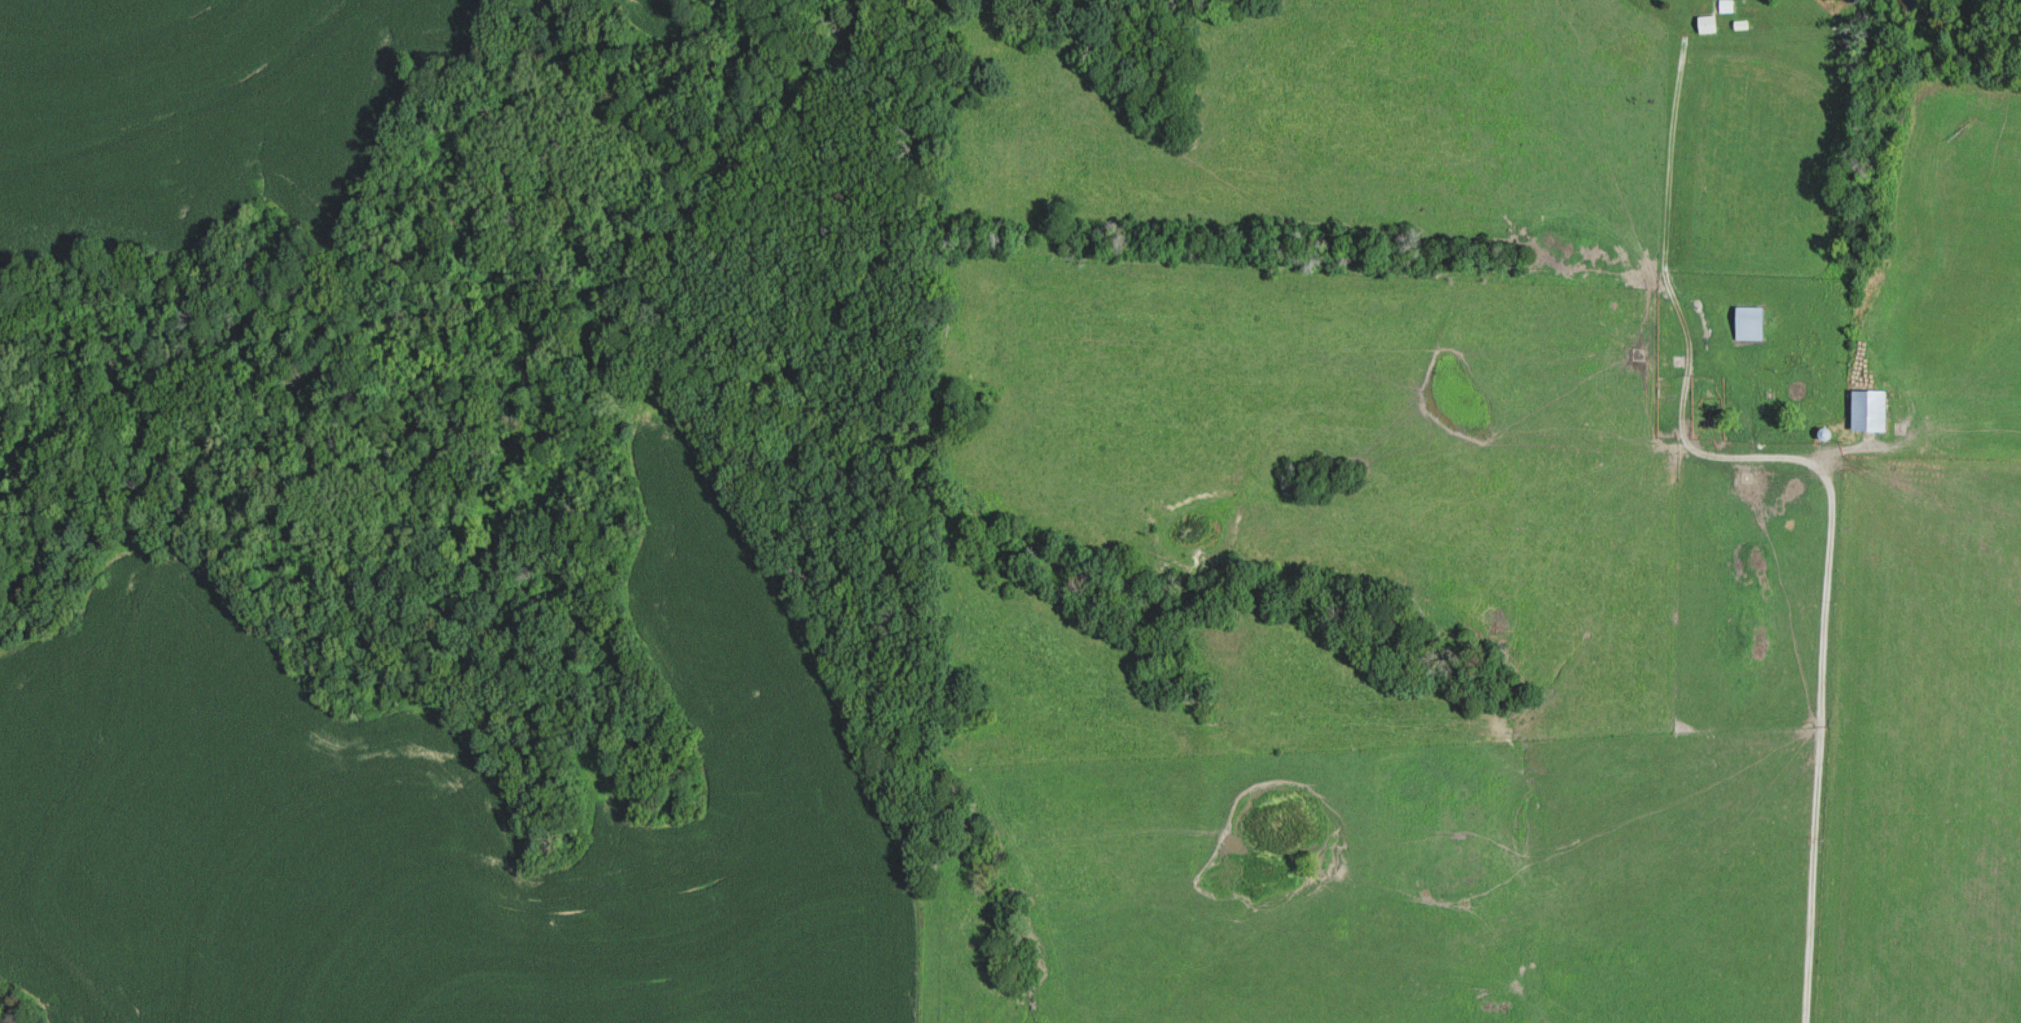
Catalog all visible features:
building: (1751, 323)
building: (1871, 410)
road: (1824, 617)

